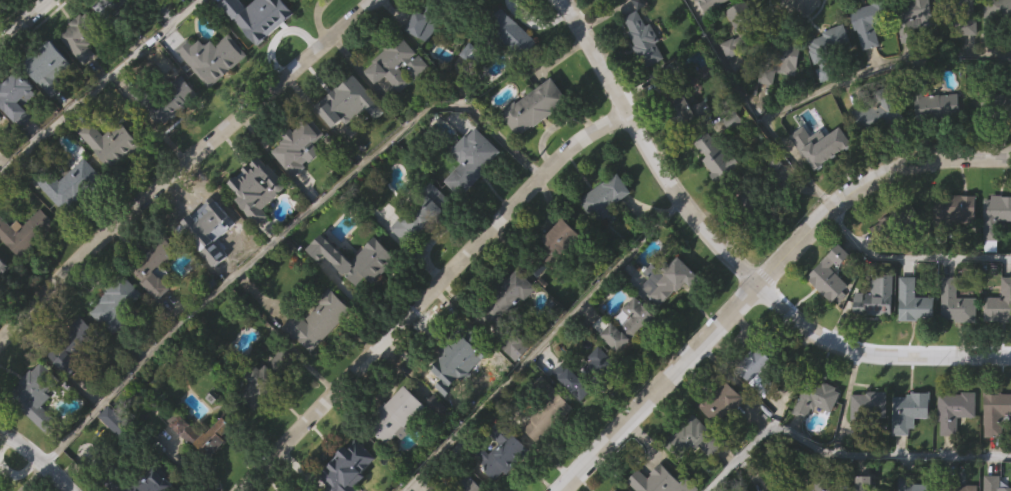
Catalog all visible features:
building: (342, 0)
building: (451, 0)
building: (710, 4)
building: (15, 10)
building: (182, 10)
building: (601, 13)
building: (312, 16)
building: (914, 16)
building: (998, 16)
building: (146, 17)
building: (964, 17)
building: (263, 18)
road: (24, 21)
building: (870, 21)
building: (424, 25)
building: (720, 27)
building: (744, 27)
building: (443, 29)
building: (513, 31)
building: (2, 32)
building: (83, 32)
building: (643, 34)
building: (835, 41)
building: (114, 43)
building: (996, 48)
building: (212, 57)
building: (910, 58)
building: (262, 59)
building: (784, 60)
building: (397, 61)
building: (47, 65)
building: (420, 67)
building: (866, 67)
building: (510, 74)
building: (80, 79)
building: (642, 81)
building: (828, 83)
road: (96, 86)
road: (820, 92)
building: (16, 96)
building: (782, 96)
building: (681, 97)
building: (933, 97)
building: (165, 98)
building: (343, 98)
building: (211, 99)
building: (464, 101)
building: (535, 105)
building: (995, 105)
building: (395, 106)
building: (881, 109)
building: (48, 111)
building: (0, 115)
building: (764, 118)
building: (16, 139)
building: (299, 139)
building: (110, 142)
building: (171, 144)
building: (347, 144)
building: (822, 145)
building: (997, 145)
building: (934, 148)
building: (533, 149)
road: (649, 149)
building: (686, 152)
building: (717, 157)
building: (875, 157)
building: (0, 158)
building: (472, 160)
road: (183, 165)
road: (913, 167)
building: (69, 183)
building: (110, 184)
building: (819, 187)
building: (298, 188)
building: (258, 189)
building: (606, 197)
building: (713, 198)
building: (471, 200)
building: (749, 201)
building: (954, 209)
building: (421, 212)
building: (204, 219)
building: (995, 219)
building: (899, 222)
building: (68, 225)
road: (281, 228)
building: (255, 229)
building: (25, 231)
building: (569, 235)
building: (603, 239)
building: (746, 242)
road: (793, 249)
building: (952, 251)
road: (911, 257)
building: (994, 257)
building: (356, 259)
building: (417, 260)
building: (203, 261)
building: (157, 263)
building: (4, 267)
building: (886, 267)
building: (831, 273)
building: (559, 278)
building: (669, 281)
road: (427, 294)
building: (877, 296)
building: (507, 297)
building: (354, 300)
building: (916, 301)
building: (114, 302)
building: (959, 302)
building: (999, 303)
building: (3, 309)
building: (153, 309)
building: (828, 316)
building: (319, 319)
building: (665, 322)
building: (627, 323)
building: (503, 340)
building: (874, 340)
road: (539, 344)
building: (912, 344)
building: (76, 345)
building: (516, 345)
building: (951, 345)
building: (117, 346)
building: (1001, 351)
road: (873, 354)
building: (461, 360)
building: (316, 362)
building: (626, 366)
building: (753, 366)
building: (589, 372)
building: (267, 377)
building: (71, 385)
road: (657, 386)
building: (515, 388)
building: (35, 395)
building: (817, 397)
building: (722, 401)
building: (597, 403)
building: (459, 405)
building: (752, 408)
building: (868, 409)
building: (956, 409)
building: (910, 410)
building: (548, 411)
building: (996, 412)
building: (403, 414)
building: (266, 418)
building: (571, 422)
building: (118, 424)
building: (205, 434)
building: (696, 436)
building: (36, 438)
building: (813, 440)
building: (720, 444)
building: (436, 448)
building: (867, 448)
building: (499, 449)
road: (841, 450)
building: (908, 453)
building: (953, 453)
building: (546, 454)
building: (994, 454)
building: (395, 456)
road: (37, 458)
building: (113, 463)
building: (344, 464)
building: (663, 478)
building: (691, 478)
building: (138, 480)
building: (505, 481)
building: (465, 482)
building: (823, 482)
building: (865, 482)
building: (910, 483)
building: (995, 483)
building: (957, 484)
building: (354, 487)
building: (436, 487)
building: (780, 488)
building: (0, 490)
building: (614, 490)

